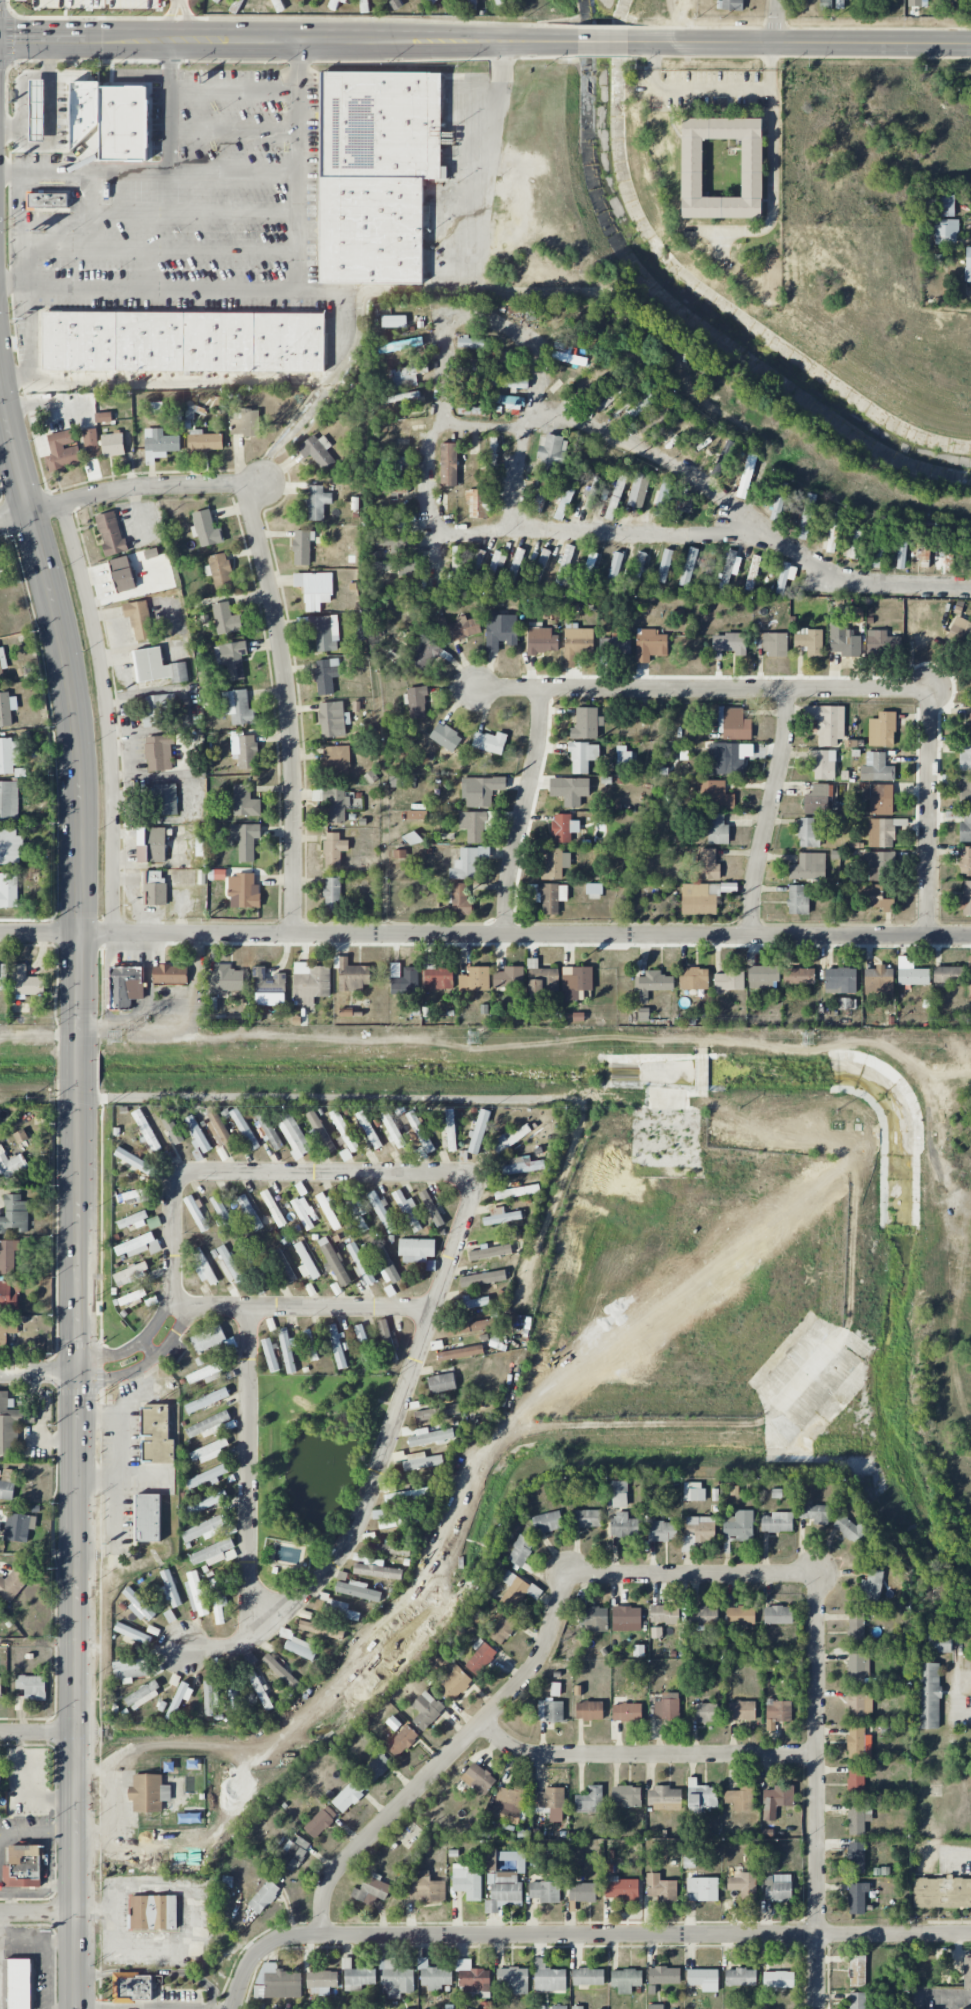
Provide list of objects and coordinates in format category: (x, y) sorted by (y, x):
building: (343, 0)
building: (432, 1)
building: (499, 1)
building: (917, 3)
building: (395, 4)
building: (471, 4)
building: (278, 5)
building: (730, 5)
building: (236, 6)
building: (364, 6)
road: (175, 19)
road: (193, 19)
road: (776, 22)
road: (87, 39)
road: (236, 40)
road: (399, 40)
road: (539, 41)
road: (603, 42)
road: (799, 43)
road: (774, 65)
road: (23, 88)
road: (235, 89)
road: (296, 102)
road: (173, 103)
building: (37, 109)
gas station: (37, 109)
building: (84, 109)
road: (772, 113)
road: (51, 128)
road: (234, 130)
road: (220, 166)
building: (722, 167)
road: (9, 169)
building: (376, 172)
building: (47, 201)
building: (947, 205)
road: (221, 206)
road: (118, 207)
road: (91, 208)
road: (57, 221)
road: (23, 227)
road: (145, 227)
building: (946, 232)
road: (85, 250)
road: (222, 251)
building: (968, 264)
road: (14, 284)
road: (194, 288)
road: (460, 317)
building: (394, 321)
building: (183, 340)
building: (474, 343)
building: (400, 345)
road: (355, 348)
building: (567, 354)
building: (510, 357)
building: (407, 375)
building: (501, 382)
building: (592, 385)
building: (402, 397)
building: (507, 399)
building: (471, 409)
building: (636, 410)
building: (103, 417)
building: (247, 423)
building: (401, 426)
road: (290, 433)
building: (204, 441)
building: (91, 444)
building: (112, 444)
building: (159, 444)
building: (62, 451)
building: (318, 451)
building: (492, 452)
building: (552, 452)
building: (723, 458)
building: (401, 462)
building: (448, 464)
building: (746, 476)
road: (121, 488)
building: (638, 490)
road: (711, 490)
building: (592, 492)
building: (615, 497)
building: (663, 498)
building: (565, 499)
building: (778, 501)
building: (317, 502)
building: (478, 503)
building: (392, 514)
building: (807, 516)
building: (206, 529)
road: (599, 531)
building: (111, 533)
building: (833, 533)
building: (877, 539)
building: (950, 541)
building: (926, 545)
building: (969, 545)
building: (853, 546)
building: (302, 547)
building: (901, 549)
building: (590, 561)
building: (497, 562)
building: (466, 564)
building: (565, 564)
building: (515, 565)
building: (639, 565)
building: (665, 565)
building: (690, 565)
building: (397, 566)
building: (615, 567)
building: (539, 568)
building: (729, 569)
building: (219, 571)
building: (753, 573)
building: (122, 574)
building: (784, 577)
building: (314, 589)
building: (139, 619)
building: (226, 619)
building: (464, 628)
building: (961, 629)
building: (500, 630)
building: (322, 631)
building: (542, 641)
building: (809, 641)
building: (844, 641)
building: (576, 643)
building: (729, 644)
building: (775, 644)
building: (618, 645)
building: (650, 645)
building: (426, 654)
building: (231, 658)
building: (2, 663)
building: (157, 667)
building: (970, 667)
building: (326, 675)
building: (206, 678)
road: (703, 691)
building: (416, 701)
building: (238, 707)
road: (286, 707)
building: (7, 709)
building: (156, 709)
road: (106, 714)
building: (970, 718)
building: (333, 719)
building: (827, 723)
building: (586, 724)
building: (734, 724)
building: (882, 730)
building: (445, 737)
building: (489, 742)
building: (159, 752)
building: (245, 752)
building: (9, 755)
building: (965, 755)
building: (583, 756)
building: (623, 756)
building: (729, 757)
building: (337, 760)
building: (822, 764)
building: (879, 767)
building: (370, 777)
building: (396, 781)
building: (481, 790)
building: (570, 790)
building: (716, 795)
building: (165, 799)
building: (879, 799)
building: (9, 800)
building: (817, 800)
building: (245, 801)
building: (337, 805)
road: (521, 812)
road: (769, 814)
road: (929, 814)
building: (473, 826)
building: (564, 827)
building: (965, 828)
building: (717, 829)
building: (808, 833)
building: (881, 833)
building: (245, 839)
building: (151, 845)
building: (10, 847)
building: (334, 849)
building: (965, 861)
building: (468, 863)
building: (555, 864)
building: (708, 864)
building: (807, 866)
building: (880, 866)
building: (155, 888)
building: (8, 890)
building: (243, 891)
building: (594, 891)
building: (333, 893)
building: (551, 897)
building: (877, 898)
building: (460, 899)
building: (699, 899)
building: (965, 899)
building: (797, 900)
road: (485, 935)
building: (912, 973)
building: (970, 973)
building: (170, 974)
building: (944, 974)
building: (351, 975)
building: (438, 975)
building: (763, 976)
building: (798, 976)
building: (3, 977)
building: (509, 977)
building: (542, 978)
building: (694, 978)
building: (225, 979)
building: (475, 979)
building: (730, 980)
building: (576, 981)
building: (840, 981)
building: (879, 981)
building: (25, 982)
building: (405, 982)
building: (653, 982)
building: (268, 983)
building: (310, 983)
building: (126, 986)
road: (193, 997)
building: (846, 1003)
road: (154, 1017)
power tower: (116, 1036)
power tower: (475, 1037)
power tower: (806, 1039)
building: (171, 1127)
building: (244, 1129)
building: (368, 1129)
building: (392, 1129)
building: (450, 1130)
building: (146, 1131)
building: (344, 1131)
building: (479, 1131)
building: (220, 1132)
building: (420, 1132)
building: (196, 1133)
building: (320, 1133)
building: (293, 1134)
building: (20, 1136)
building: (513, 1136)
building: (222, 1154)
building: (197, 1155)
building: (346, 1155)
building: (11, 1162)
building: (135, 1163)
building: (522, 1165)
building: (517, 1192)
road: (79, 1195)
building: (129, 1195)
building: (332, 1196)
building: (356, 1207)
building: (273, 1208)
building: (431, 1208)
building: (327, 1209)
building: (407, 1210)
building: (221, 1211)
building: (249, 1212)
building: (304, 1212)
building: (14, 1213)
building: (197, 1213)
building: (382, 1213)
building: (502, 1216)
building: (131, 1221)
building: (154, 1221)
building: (138, 1245)
building: (418, 1252)
building: (490, 1252)
building: (249, 1255)
road: (453, 1255)
building: (8, 1256)
building: (305, 1261)
building: (226, 1262)
building: (359, 1262)
building: (335, 1264)
building: (386, 1264)
building: (282, 1266)
building: (204, 1267)
building: (131, 1273)
building: (239, 1278)
building: (483, 1278)
building: (9, 1295)
building: (131, 1297)
building: (474, 1302)
road: (243, 1307)
building: (469, 1327)
building: (7, 1331)
building: (212, 1340)
building: (310, 1344)
building: (337, 1346)
building: (377, 1347)
building: (287, 1351)
building: (460, 1353)
building: (269, 1354)
road: (39, 1372)
traffic signals: (79, 1373)
building: (206, 1374)
building: (441, 1382)
building: (207, 1400)
building: (437, 1412)
building: (10, 1425)
building: (208, 1425)
road: (119, 1427)
building: (156, 1434)
building: (430, 1437)
building: (207, 1451)
building: (421, 1461)
road: (250, 1470)
road: (96, 1474)
building: (206, 1477)
building: (7, 1484)
building: (389, 1486)
building: (693, 1491)
building: (619, 1494)
building: (407, 1495)
building: (206, 1503)
road: (115, 1512)
building: (814, 1513)
building: (148, 1518)
building: (587, 1518)
building: (547, 1521)
building: (777, 1522)
building: (624, 1525)
building: (19, 1527)
building: (738, 1528)
building: (205, 1529)
building: (850, 1529)
building: (662, 1531)
building: (697, 1532)
building: (386, 1549)
building: (520, 1551)
building: (214, 1553)
building: (377, 1569)
road: (692, 1574)
building: (12, 1584)
building: (872, 1585)
building: (170, 1588)
building: (517, 1589)
building: (358, 1590)
building: (196, 1592)
building: (218, 1601)
building: (139, 1605)
building: (340, 1609)
building: (741, 1615)
building: (778, 1615)
building: (704, 1616)
building: (626, 1618)
building: (593, 1619)
building: (503, 1627)
building: (323, 1628)
building: (856, 1628)
building: (132, 1633)
building: (940, 1644)
building: (301, 1648)
building: (480, 1657)
building: (130, 1669)
building: (856, 1669)
building: (280, 1671)
building: (453, 1680)
building: (0, 1685)
building: (32, 1687)
building: (232, 1690)
building: (143, 1695)
building: (181, 1696)
building: (928, 1696)
building: (211, 1697)
building: (859, 1705)
building: (668, 1707)
building: (426, 1710)
building: (589, 1710)
building: (741, 1710)
building: (550, 1711)
road: (965, 1711)
building: (627, 1712)
building: (704, 1713)
building: (777, 1713)
road: (38, 1732)
building: (402, 1740)
building: (856, 1743)
road: (643, 1757)
road: (447, 1759)
building: (376, 1768)
building: (0, 1776)
building: (478, 1778)
building: (856, 1780)
road: (29, 1788)
road: (815, 1792)
building: (148, 1793)
building: (349, 1795)
building: (626, 1796)
building: (701, 1796)
building: (663, 1798)
building: (740, 1798)
building: (549, 1799)
building: (590, 1800)
building: (776, 1801)
building: (508, 1804)
building: (859, 1817)
building: (320, 1821)
road: (39, 1833)
building: (295, 1853)
building: (856, 1857)
building: (491, 1859)
building: (513, 1859)
building: (22, 1867)
building: (467, 1882)
building: (741, 1883)
road: (47, 1885)
road: (62, 1886)
building: (778, 1887)
building: (371, 1888)
building: (426, 1888)
building: (660, 1888)
building: (622, 1889)
building: (702, 1889)
building: (503, 1891)
building: (545, 1891)
building: (582, 1892)
building: (942, 1892)
building: (264, 1897)
building: (857, 1897)
road: (10, 1902)
road: (95, 1911)
road: (39, 1913)
building: (153, 1913)
road: (197, 1922)
road: (3, 1929)
road: (581, 1935)
road: (40, 1940)
building: (857, 1970)
road: (157, 1972)
building: (967, 1972)
building: (434, 1975)
building: (664, 1975)
building: (357, 1976)
building: (588, 1976)
building: (472, 1977)
building: (740, 1977)
building: (395, 1978)
building: (549, 1978)
building: (703, 1979)
building: (778, 1979)
building: (513, 1980)
building: (626, 1980)
building: (277, 1982)
building: (321, 1982)
building: (19, 1984)
building: (133, 1986)
building: (857, 2000)
building: (656, 2007)

